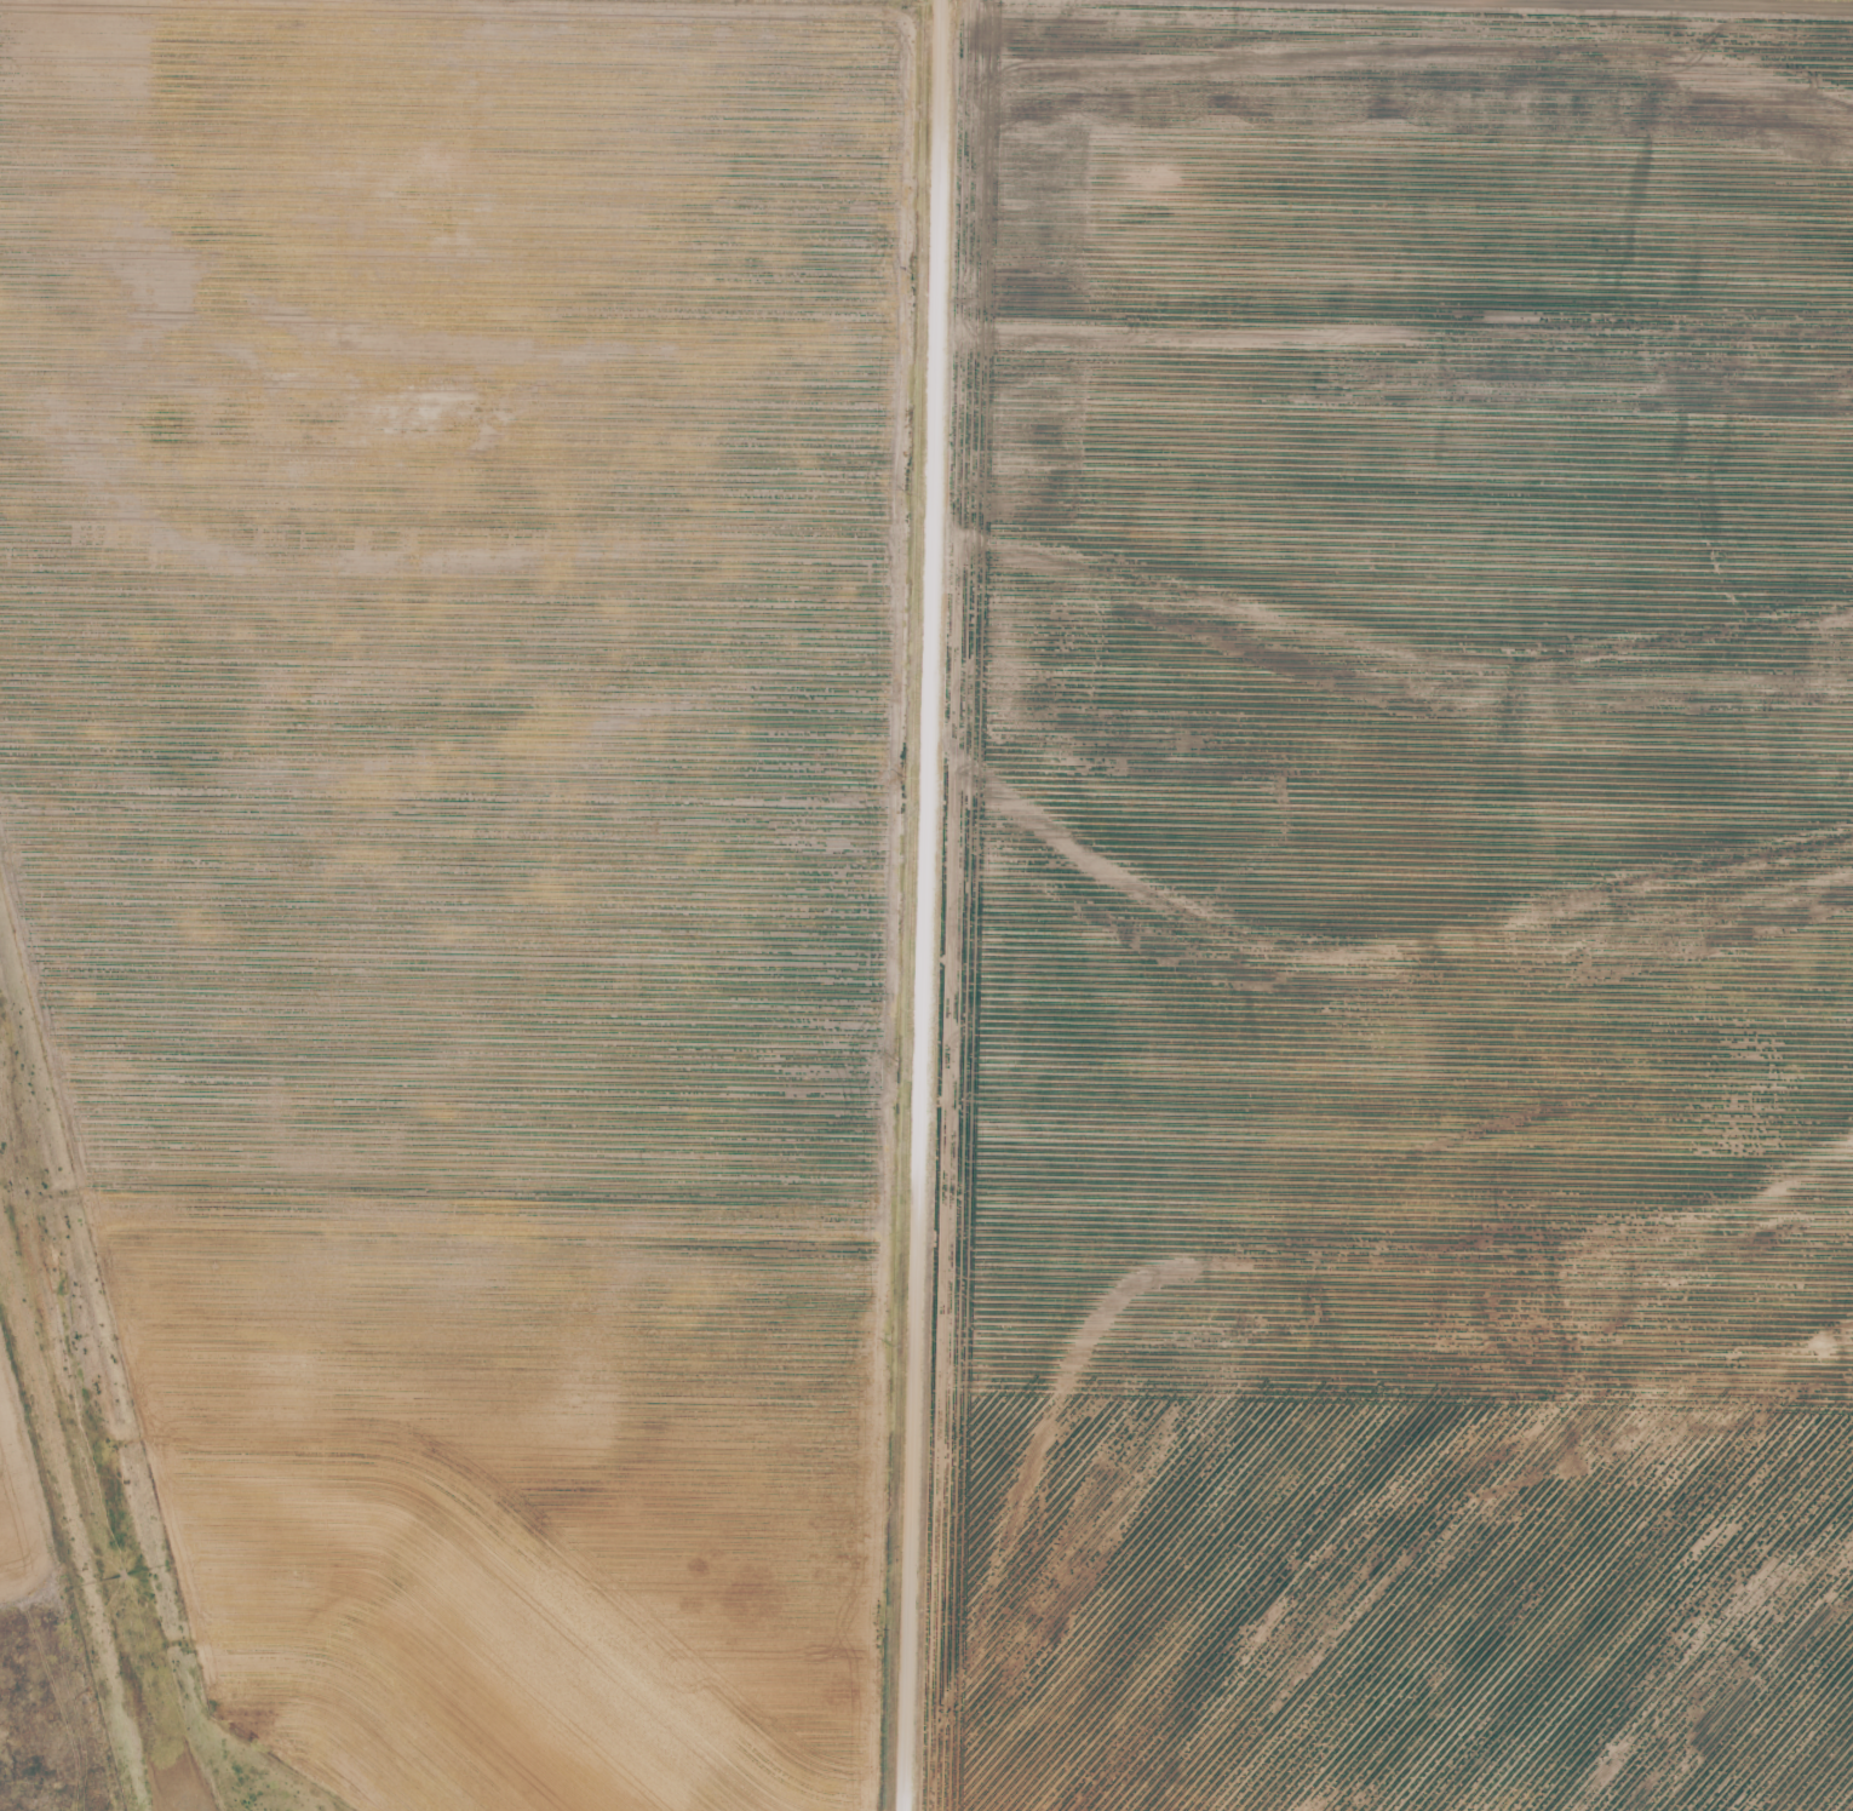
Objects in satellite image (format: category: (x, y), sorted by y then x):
road: (926, 905)

